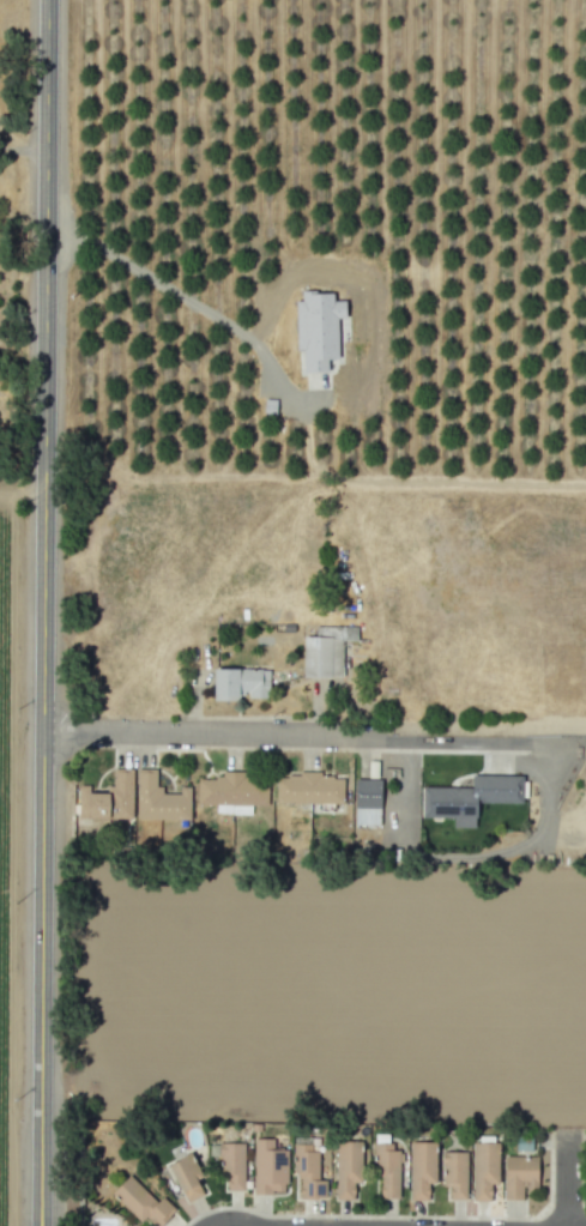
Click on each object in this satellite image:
road: (24, 150)
building: (318, 328)
road: (310, 395)
road: (42, 612)
building: (325, 651)
building: (241, 683)
road: (192, 732)
road: (435, 742)
building: (308, 789)
building: (231, 790)
building: (470, 797)
building: (108, 798)
building: (159, 798)
building: (367, 802)
road: (473, 857)
building: (522, 1143)
building: (230, 1164)
building: (268, 1167)
building: (348, 1168)
building: (386, 1168)
building: (421, 1168)
building: (484, 1170)
building: (307, 1171)
building: (454, 1173)
building: (519, 1174)
building: (186, 1177)
road: (564, 1179)
building: (143, 1202)

